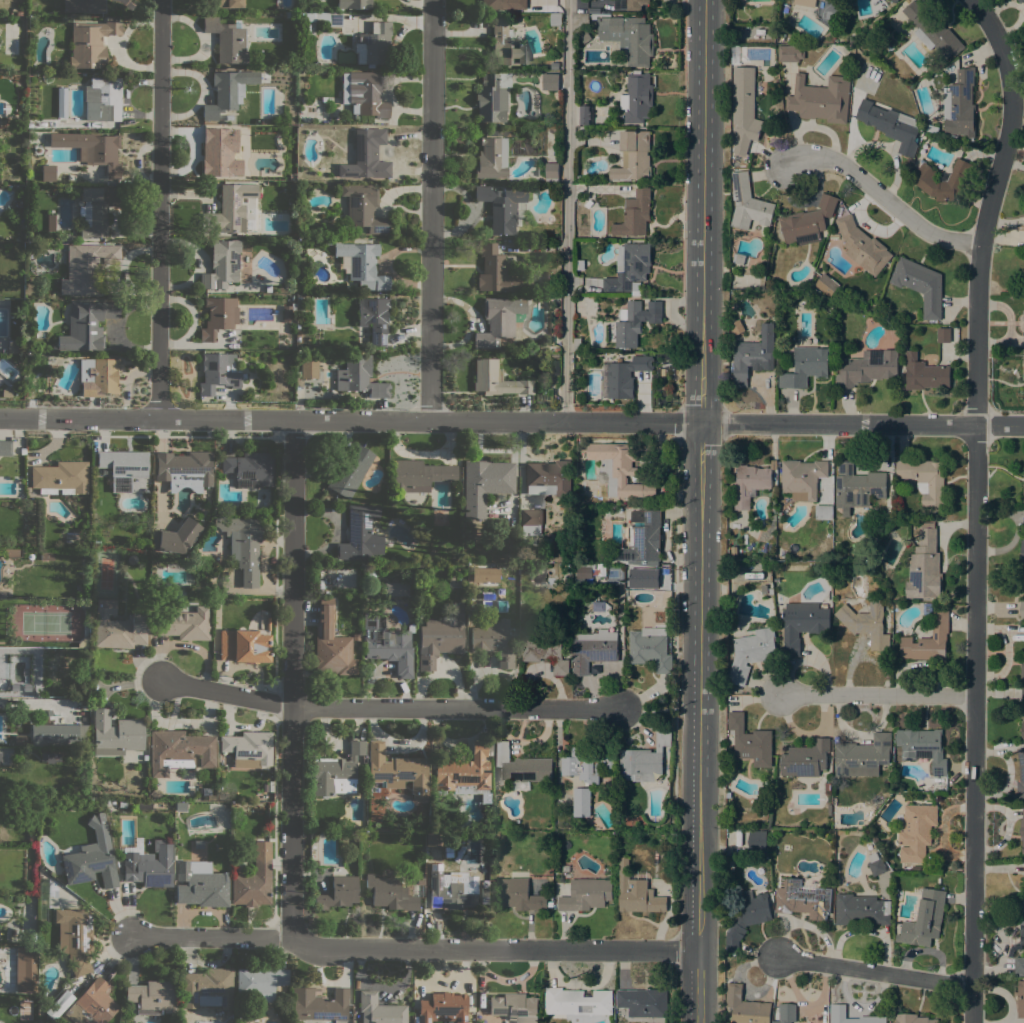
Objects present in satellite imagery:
building: (832, 0)
building: (882, 0)
building: (895, 0)
building: (1020, 1)
building: (225, 3)
building: (353, 4)
building: (503, 4)
building: (629, 4)
building: (804, 5)
building: (84, 6)
building: (785, 6)
building: (288, 14)
building: (329, 17)
building: (555, 19)
building: (933, 30)
building: (227, 40)
building: (637, 41)
building: (90, 42)
building: (374, 44)
building: (506, 44)
building: (866, 45)
building: (790, 53)
building: (550, 81)
building: (227, 91)
building: (364, 95)
building: (492, 96)
building: (637, 98)
building: (103, 99)
building: (821, 99)
building: (960, 105)
building: (744, 109)
building: (585, 115)
building: (2, 121)
building: (891, 125)
building: (931, 128)
building: (92, 149)
building: (216, 153)
building: (633, 157)
building: (365, 158)
building: (492, 158)
building: (552, 172)
building: (48, 173)
building: (71, 180)
building: (942, 180)
road: (883, 198)
building: (748, 203)
building: (589, 204)
building: (501, 206)
building: (363, 207)
building: (228, 209)
building: (97, 210)
road: (159, 210)
road: (431, 210)
road: (567, 211)
building: (634, 214)
building: (51, 223)
building: (807, 223)
building: (250, 224)
building: (833, 234)
building: (66, 238)
building: (862, 246)
building: (739, 259)
building: (222, 264)
building: (363, 265)
building: (580, 265)
building: (633, 266)
building: (86, 267)
building: (498, 272)
building: (826, 285)
building: (920, 285)
building: (268, 287)
building: (813, 289)
building: (300, 305)
building: (288, 312)
building: (218, 316)
building: (374, 317)
building: (496, 321)
building: (635, 322)
building: (87, 325)
building: (736, 327)
building: (1023, 327)
building: (944, 335)
building: (577, 344)
building: (12, 346)
building: (554, 355)
building: (753, 355)
building: (307, 367)
building: (554, 367)
building: (805, 367)
building: (867, 368)
building: (1023, 369)
building: (220, 372)
building: (924, 373)
building: (98, 376)
building: (626, 376)
building: (359, 377)
building: (497, 379)
building: (7, 393)
road: (512, 422)
road: (699, 424)
building: (5, 447)
building: (23, 450)
building: (123, 467)
building: (250, 468)
building: (618, 469)
building: (184, 470)
building: (350, 471)
building: (419, 475)
building: (60, 478)
building: (548, 478)
building: (802, 478)
building: (925, 479)
building: (485, 484)
building: (749, 484)
building: (857, 487)
building: (1023, 493)
road: (975, 503)
building: (889, 505)
building: (823, 513)
building: (531, 521)
building: (360, 534)
building: (176, 537)
building: (640, 538)
building: (243, 546)
building: (558, 547)
building: (1022, 551)
building: (12, 552)
building: (520, 558)
building: (924, 566)
building: (584, 570)
building: (601, 570)
building: (485, 574)
building: (630, 575)
building: (1022, 578)
building: (395, 588)
building: (599, 606)
building: (927, 608)
building: (1022, 610)
building: (866, 622)
building: (184, 623)
building: (802, 624)
building: (117, 626)
building: (441, 636)
building: (355, 637)
building: (492, 640)
building: (928, 640)
building: (331, 643)
building: (387, 643)
building: (84, 644)
building: (244, 644)
building: (651, 648)
building: (593, 650)
building: (545, 651)
building: (751, 653)
building: (1022, 671)
road: (291, 679)
building: (729, 691)
building: (25, 692)
road: (882, 695)
road: (390, 707)
building: (1022, 712)
building: (45, 713)
building: (61, 733)
building: (115, 734)
building: (19, 740)
building: (750, 741)
building: (248, 748)
building: (923, 748)
building: (179, 751)
building: (50, 756)
building: (862, 756)
building: (4, 758)
building: (805, 759)
building: (643, 760)
building: (589, 763)
building: (521, 766)
building: (397, 770)
building: (462, 770)
building: (336, 772)
building: (1020, 773)
building: (265, 787)
building: (827, 787)
building: (209, 794)
building: (485, 797)
building: (581, 802)
building: (122, 804)
building: (180, 806)
building: (829, 809)
building: (1022, 829)
building: (916, 831)
building: (427, 833)
building: (756, 841)
building: (90, 864)
building: (875, 864)
building: (149, 865)
building: (254, 879)
building: (420, 880)
building: (201, 886)
building: (451, 890)
building: (338, 893)
building: (390, 893)
building: (637, 893)
building: (521, 895)
building: (586, 895)
building: (484, 896)
building: (803, 900)
building: (1022, 907)
building: (861, 910)
building: (747, 917)
building: (925, 919)
building: (1022, 932)
road: (697, 936)
building: (75, 937)
road: (416, 949)
building: (1019, 965)
road: (876, 969)
building: (23, 970)
building: (260, 982)
building: (207, 988)
building: (153, 997)
building: (1020, 999)
building: (577, 1001)
building: (643, 1002)
building: (319, 1003)
building: (59, 1004)
building: (92, 1004)
building: (515, 1007)
building: (745, 1007)
building: (443, 1008)
building: (379, 1009)
building: (838, 1010)
building: (787, 1013)
building: (913, 1019)
building: (775, 1022)

